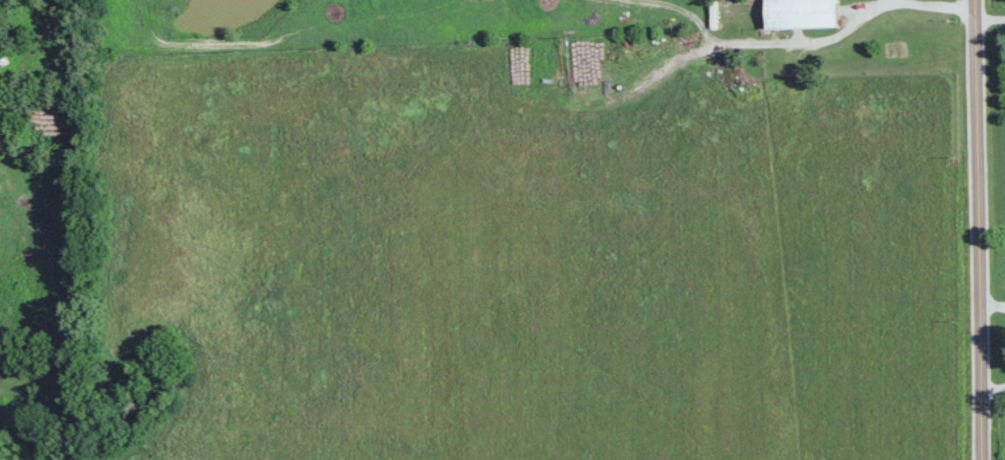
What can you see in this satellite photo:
road: (947, 3)
building: (800, 13)
road: (991, 17)
road: (818, 38)
building: (3, 54)
road: (979, 229)
road: (992, 301)
road: (993, 383)

